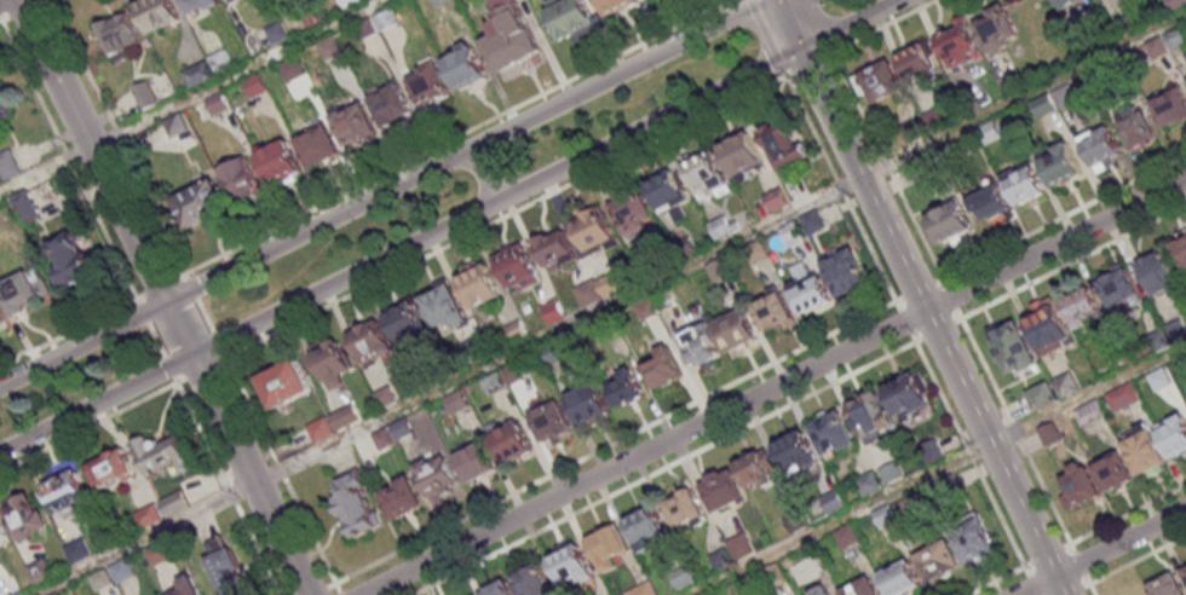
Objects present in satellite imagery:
road: (1, 0)
building: (232, 0)
building: (1069, 2)
building: (198, 5)
building: (615, 6)
road: (23, 11)
building: (159, 13)
building: (386, 18)
building: (569, 19)
road: (0, 22)
road: (881, 24)
building: (996, 27)
building: (367, 29)
building: (276, 30)
building: (120, 33)
road: (765, 36)
building: (511, 42)
building: (1167, 42)
building: (958, 45)
building: (328, 47)
traffic signals: (799, 50)
building: (917, 59)
building: (220, 60)
building: (467, 67)
building: (292, 69)
building: (197, 73)
building: (880, 80)
building: (430, 83)
road: (30, 85)
building: (254, 85)
building: (1064, 96)
road: (190, 97)
building: (137, 98)
road: (856, 100)
building: (4, 103)
building: (217, 103)
building: (391, 104)
building: (1043, 104)
building: (1171, 105)
building: (175, 125)
building: (355, 125)
building: (1138, 127)
building: (989, 132)
road: (117, 134)
road: (449, 135)
building: (317, 144)
building: (783, 145)
building: (1101, 145)
building: (741, 155)
road: (65, 158)
building: (278, 158)
building: (8, 163)
building: (1060, 163)
building: (704, 173)
road: (482, 175)
building: (241, 179)
building: (1023, 183)
road: (840, 184)
road: (381, 191)
building: (668, 192)
building: (990, 201)
building: (198, 202)
building: (21, 208)
building: (632, 212)
road: (910, 213)
road: (1063, 213)
road: (502, 215)
building: (950, 221)
road: (448, 225)
building: (593, 229)
road: (100, 235)
building: (791, 236)
building: (557, 248)
building: (1181, 249)
building: (69, 258)
road: (1070, 258)
building: (517, 268)
building: (846, 271)
building: (1162, 272)
building: (1117, 282)
road: (151, 284)
building: (479, 288)
building: (597, 288)
building: (21, 289)
building: (810, 294)
road: (162, 297)
road: (919, 297)
building: (1077, 300)
road: (608, 304)
building: (646, 306)
building: (444, 307)
building: (552, 311)
road: (202, 312)
building: (773, 313)
building: (1, 319)
building: (408, 322)
building: (1048, 327)
building: (736, 331)
road: (65, 333)
road: (152, 342)
building: (1012, 345)
building: (698, 346)
building: (352, 352)
building: (662, 365)
road: (200, 368)
building: (286, 382)
road: (772, 386)
building: (624, 387)
road: (1087, 392)
building: (910, 395)
building: (1042, 395)
building: (1122, 395)
building: (588, 403)
building: (870, 414)
building: (551, 422)
road: (88, 423)
building: (833, 432)
building: (1174, 433)
building: (511, 441)
building: (796, 451)
building: (1145, 451)
building: (159, 452)
road: (969, 456)
building: (476, 461)
building: (109, 467)
road: (660, 469)
building: (756, 469)
building: (1112, 470)
building: (439, 476)
road: (1042, 484)
building: (1080, 486)
road: (226, 487)
building: (722, 489)
building: (67, 490)
building: (402, 497)
road: (501, 497)
building: (356, 503)
building: (685, 507)
building: (162, 508)
building: (23, 514)
road: (837, 518)
building: (646, 525)
building: (2, 537)
building: (973, 538)
building: (609, 545)
building: (77, 549)
road: (1100, 551)
building: (157, 553)
road: (1130, 559)
building: (938, 560)
building: (572, 564)
building: (226, 567)
building: (1184, 567)
building: (114, 573)
building: (900, 577)
building: (532, 580)
road: (1000, 582)
building: (1168, 585)
building: (500, 588)
building: (859, 588)
building: (643, 590)
building: (196, 591)
building: (825, 593)

